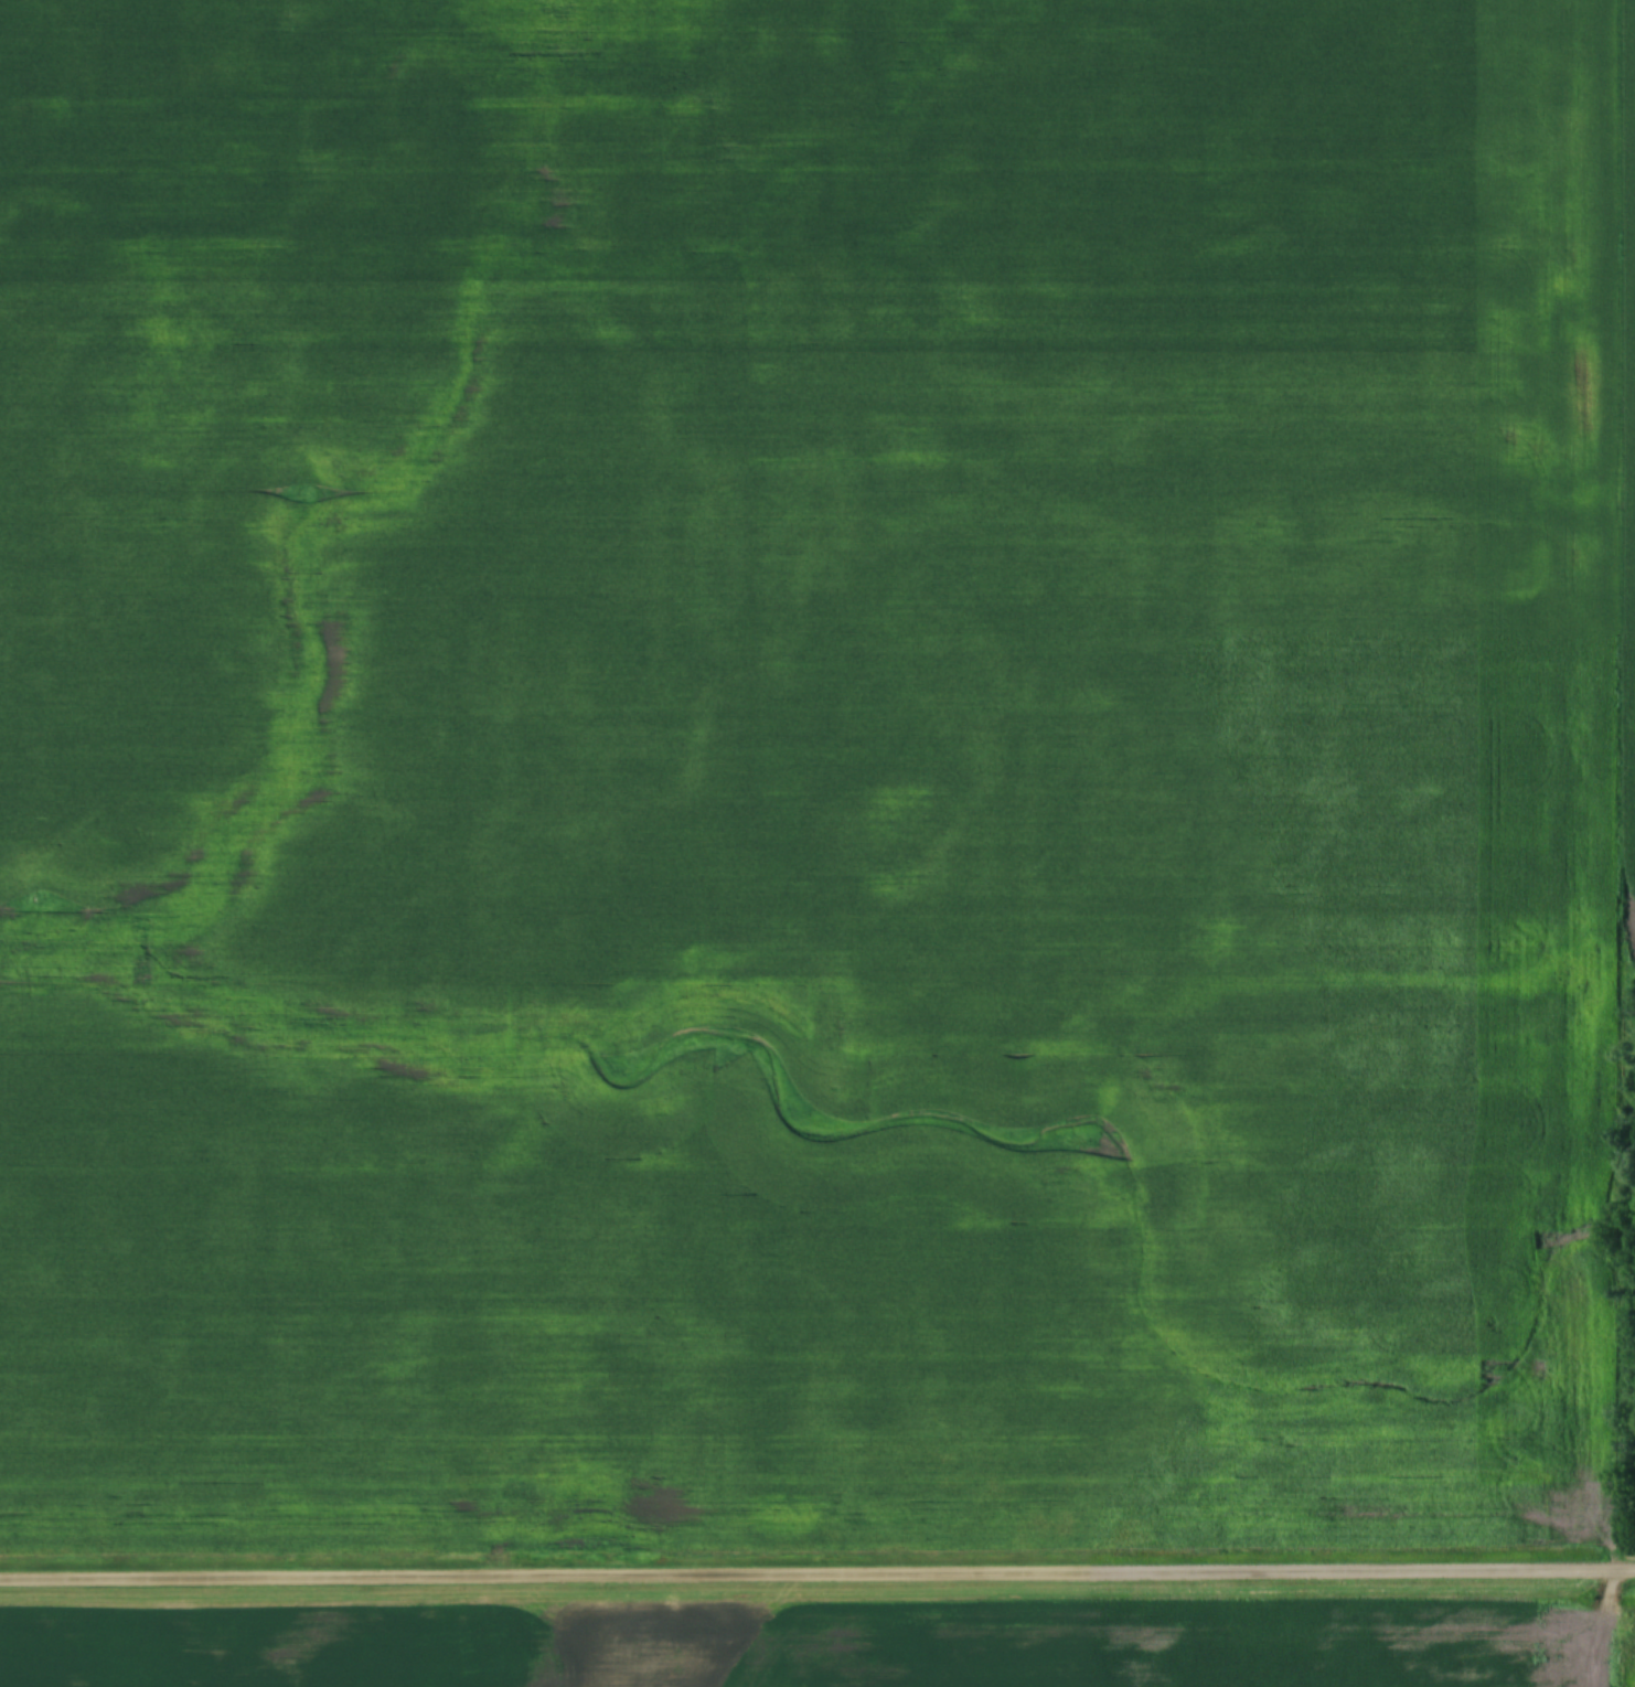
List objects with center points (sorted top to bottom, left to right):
road: (817, 1574)

